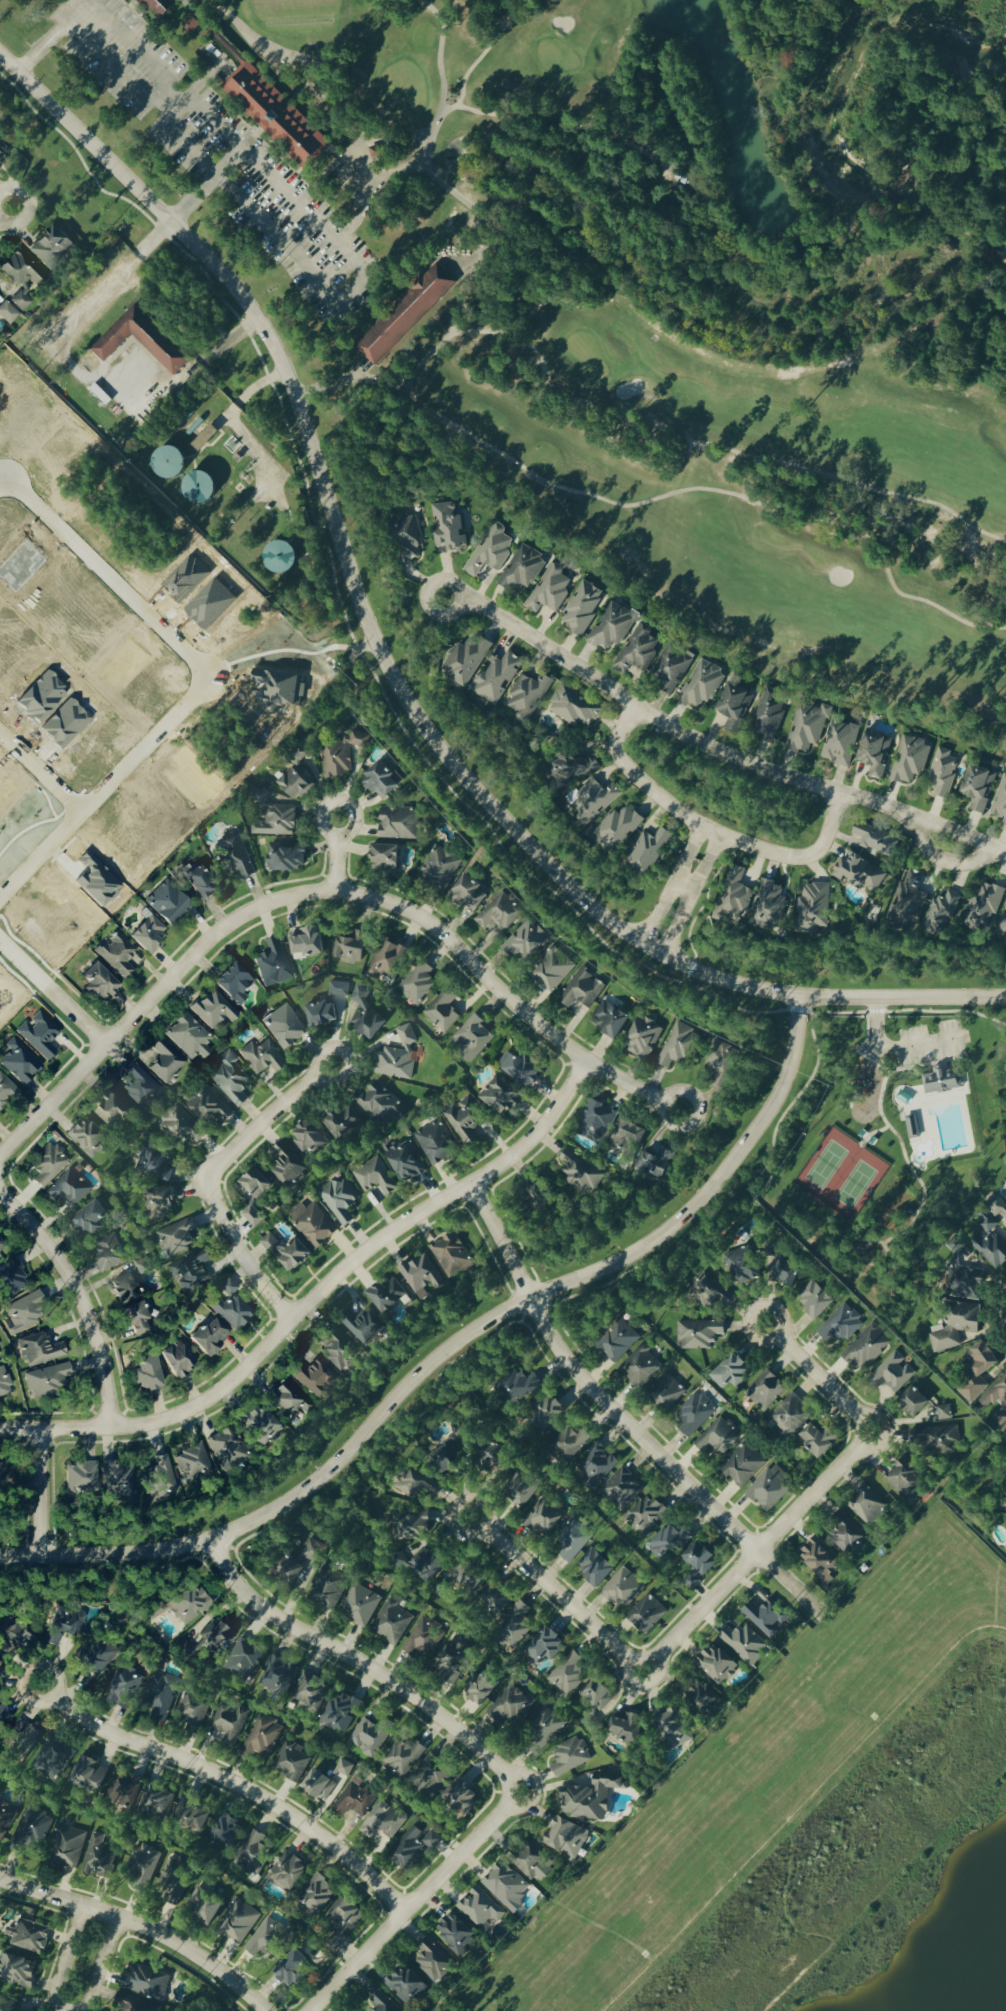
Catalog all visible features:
river: (991, 3)
building: (157, 8)
road: (52, 35)
road: (438, 55)
road: (201, 81)
road: (146, 97)
building: (263, 98)
road: (456, 103)
road: (329, 106)
road: (507, 117)
river: (836, 141)
building: (3, 149)
building: (372, 152)
parking lot: (216, 155)
building: (681, 179)
road: (4, 211)
road: (315, 228)
road: (490, 235)
road: (143, 245)
building: (51, 249)
road: (461, 260)
road: (98, 274)
building: (21, 278)
park: (572, 308)
building: (7, 314)
building: (405, 314)
building: (141, 338)
road: (132, 358)
road: (379, 382)
road: (334, 384)
road: (120, 394)
road: (234, 425)
road: (717, 447)
building: (169, 460)
road: (3, 484)
building: (199, 485)
road: (672, 495)
building: (447, 527)
building: (408, 539)
building: (490, 551)
building: (280, 555)
building: (522, 570)
road: (108, 572)
building: (549, 591)
building: (582, 608)
road: (341, 614)
building: (612, 627)
building: (637, 652)
building: (465, 661)
building: (671, 667)
road: (389, 675)
building: (497, 677)
building: (702, 685)
building: (528, 695)
building: (734, 707)
building: (574, 708)
building: (768, 719)
building: (808, 728)
building: (840, 742)
road: (711, 750)
building: (875, 754)
building: (339, 756)
building: (910, 760)
building: (573, 768)
building: (944, 772)
building: (296, 778)
road: (38, 780)
building: (380, 781)
road: (103, 786)
building: (979, 788)
building: (1000, 802)
building: (276, 822)
building: (398, 824)
building: (619, 828)
road: (709, 831)
building: (877, 841)
road: (695, 842)
building: (648, 852)
road: (715, 853)
road: (334, 855)
building: (285, 858)
building: (384, 858)
building: (235, 859)
road: (944, 860)
building: (440, 869)
building: (858, 872)
building: (201, 884)
road: (685, 887)
building: (469, 894)
building: (734, 897)
road: (663, 900)
building: (908, 901)
road: (271, 902)
building: (167, 903)
building: (813, 908)
building: (983, 910)
road: (685, 911)
building: (500, 913)
building: (941, 913)
building: (1002, 924)
building: (148, 935)
building: (526, 941)
building: (306, 944)
building: (351, 948)
road: (691, 950)
building: (117, 955)
building: (387, 961)
building: (273, 963)
building: (553, 971)
building: (98, 983)
building: (233, 983)
building: (418, 984)
building: (582, 990)
road: (52, 992)
building: (329, 1006)
building: (213, 1010)
building: (442, 1011)
building: (365, 1014)
building: (610, 1019)
building: (284, 1027)
road: (867, 1032)
building: (38, 1035)
building: (188, 1038)
building: (471, 1039)
building: (643, 1039)
building: (677, 1047)
road: (899, 1047)
road: (334, 1051)
building: (262, 1058)
building: (397, 1058)
building: (18, 1062)
building: (164, 1062)
road: (904, 1065)
building: (723, 1067)
building: (518, 1069)
building: (231, 1080)
building: (940, 1081)
road: (632, 1085)
building: (140, 1087)
building: (6, 1091)
building: (499, 1098)
building: (383, 1106)
building: (209, 1107)
building: (113, 1113)
building: (464, 1121)
building: (596, 1122)
building: (343, 1123)
building: (178, 1125)
building: (911, 1128)
road: (871, 1132)
building: (88, 1138)
building: (628, 1140)
building: (312, 1141)
building: (435, 1143)
park: (892, 1147)
building: (406, 1162)
road: (908, 1163)
building: (656, 1164)
building: (48, 1166)
building: (156, 1166)
building: (287, 1166)
building: (578, 1172)
building: (374, 1178)
road: (205, 1182)
building: (254, 1186)
building: (69, 1188)
building: (540, 1194)
building: (340, 1201)
building: (159, 1203)
building: (997, 1210)
building: (253, 1218)
building: (89, 1220)
building: (312, 1225)
building: (176, 1238)
building: (988, 1242)
road: (884, 1247)
building: (1, 1250)
building: (286, 1253)
building: (111, 1254)
building: (453, 1257)
building: (742, 1266)
building: (144, 1267)
building: (190, 1271)
building: (786, 1273)
building: (422, 1275)
building: (10, 1278)
road: (532, 1280)
building: (965, 1284)
building: (125, 1289)
building: (707, 1291)
road: (314, 1294)
building: (387, 1295)
road: (78, 1298)
building: (815, 1301)
building: (228, 1307)
road: (537, 1309)
building: (25, 1312)
road: (553, 1318)
building: (136, 1320)
building: (840, 1326)
building: (958, 1326)
building: (364, 1328)
building: (699, 1334)
building: (209, 1338)
building: (618, 1342)
road: (449, 1346)
building: (866, 1349)
building: (38, 1350)
building: (341, 1353)
building: (0, 1355)
building: (178, 1359)
building: (641, 1367)
building: (978, 1372)
building: (731, 1373)
road: (814, 1374)
building: (892, 1374)
building: (147, 1375)
building: (314, 1378)
building: (46, 1380)
building: (4, 1383)
building: (516, 1389)
building: (765, 1391)
building: (667, 1392)
building: (996, 1396)
building: (285, 1397)
building: (924, 1406)
building: (695, 1414)
building: (547, 1415)
building: (789, 1417)
road: (617, 1420)
building: (259, 1426)
building: (718, 1437)
building: (934, 1438)
building: (819, 1440)
building: (573, 1445)
building: (224, 1449)
building: (449, 1452)
building: (192, 1465)
building: (595, 1466)
building: (743, 1466)
building: (496, 1472)
building: (4, 1478)
building: (80, 1478)
building: (160, 1479)
building: (116, 1483)
building: (907, 1483)
building: (418, 1485)
building: (521, 1489)
building: (620, 1489)
building: (770, 1489)
road: (38, 1492)
building: (867, 1507)
building: (646, 1516)
building: (545, 1518)
building: (415, 1525)
building: (847, 1535)
building: (571, 1542)
building: (668, 1543)
road: (756, 1551)
building: (820, 1558)
building: (303, 1559)
building: (700, 1560)
building: (401, 1565)
building: (426, 1565)
building: (594, 1568)
building: (461, 1576)
building: (329, 1587)
building: (622, 1589)
road: (552, 1592)
building: (494, 1600)
building: (188, 1605)
building: (360, 1606)
building: (645, 1615)
building: (767, 1618)
building: (391, 1624)
building: (64, 1627)
building: (514, 1627)
building: (209, 1637)
building: (423, 1638)
building: (14, 1639)
building: (745, 1644)
building: (545, 1647)
building: (94, 1655)
building: (245, 1662)
road: (357, 1664)
building: (452, 1664)
building: (716, 1666)
road: (657, 1674)
building: (567, 1676)
road: (627, 1676)
building: (278, 1679)
building: (122, 1687)
building: (484, 1689)
building: (595, 1693)
building: (160, 1695)
building: (703, 1701)
building: (325, 1704)
building: (604, 1704)
building: (508, 1706)
building: (193, 1714)
building: (228, 1724)
building: (545, 1724)
building: (624, 1729)
building: (673, 1730)
building: (370, 1737)
building: (261, 1738)
building: (23, 1739)
building: (403, 1758)
building: (569, 1758)
building: (51, 1760)
building: (290, 1763)
building: (344, 1769)
building: (89, 1776)
building: (428, 1777)
road: (229, 1782)
building: (318, 1786)
building: (123, 1792)
building: (591, 1797)
building: (355, 1800)
building: (460, 1800)
building: (155, 1803)
building: (191, 1818)
building: (5, 1820)
building: (383, 1823)
building: (31, 1831)
building: (224, 1836)
building: (566, 1839)
building: (67, 1847)
building: (413, 1849)
building: (253, 1854)
building: (99, 1858)
building: (534, 1864)
building: (143, 1867)
building: (288, 1874)
building: (175, 1879)
building: (505, 1887)
building: (316, 1897)
road: (410, 1902)
building: (204, 1906)
building: (480, 1909)
building: (344, 1915)
building: (237, 1923)
road: (140, 1928)
building: (456, 1935)
building: (28, 1938)
building: (265, 1939)
road: (61, 1961)
building: (434, 1963)
road: (99, 1966)
building: (16, 1970)
building: (292, 1971)
building: (145, 1983)
building: (405, 1988)
building: (383, 2003)
building: (132, 2005)
building: (9, 2008)
building: (33, 2010)

